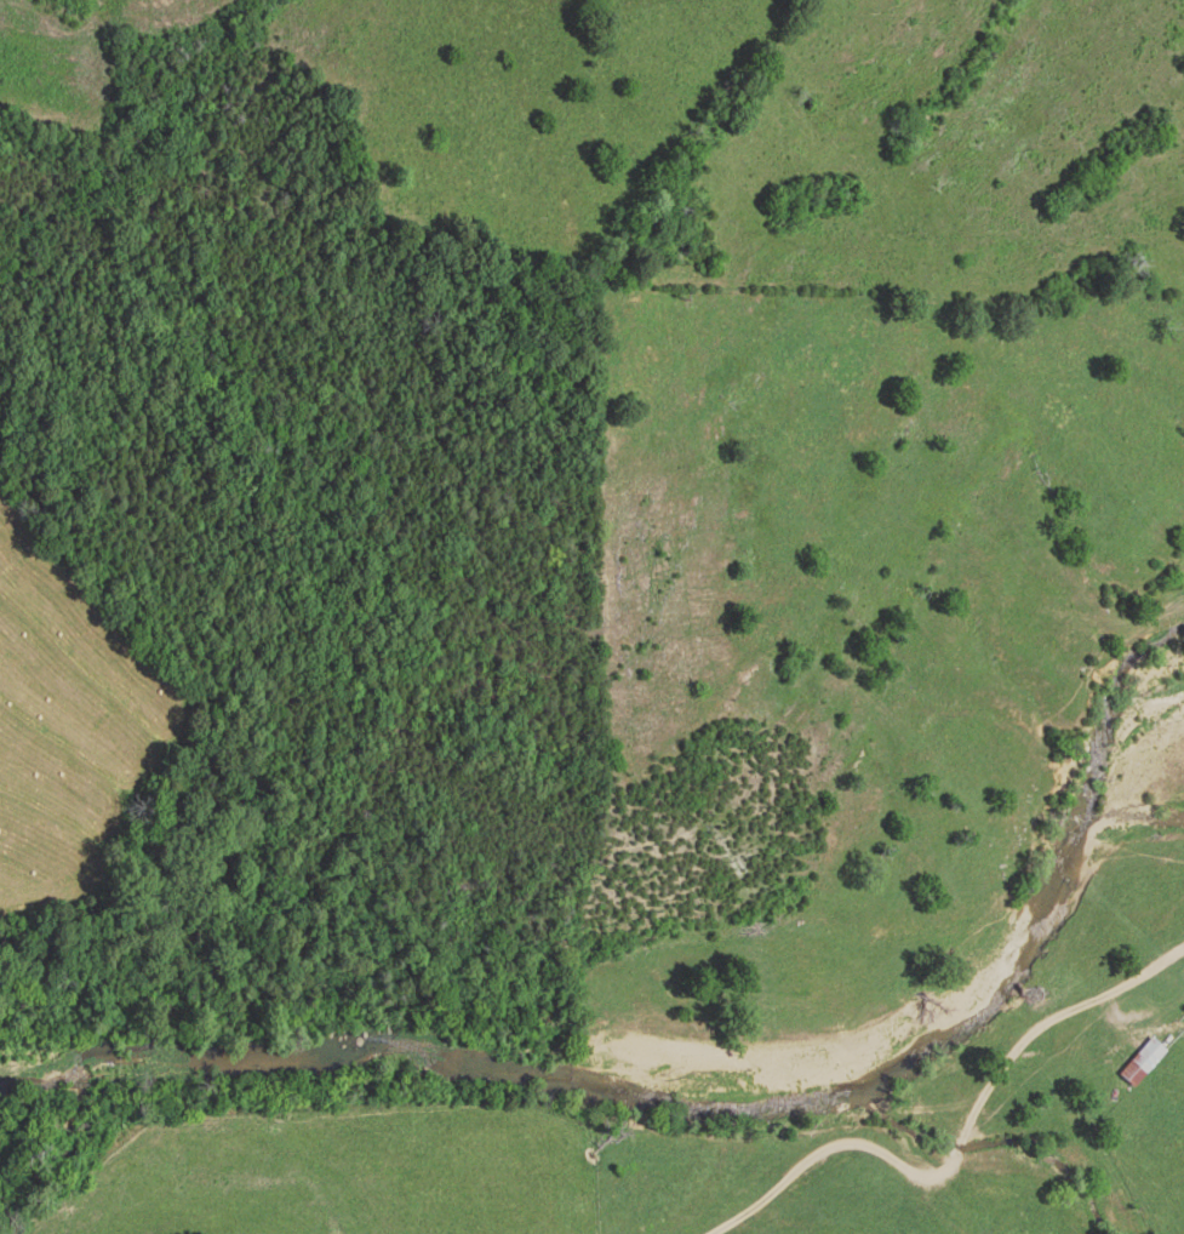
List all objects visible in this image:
building: (1146, 1061)
road: (978, 1108)

